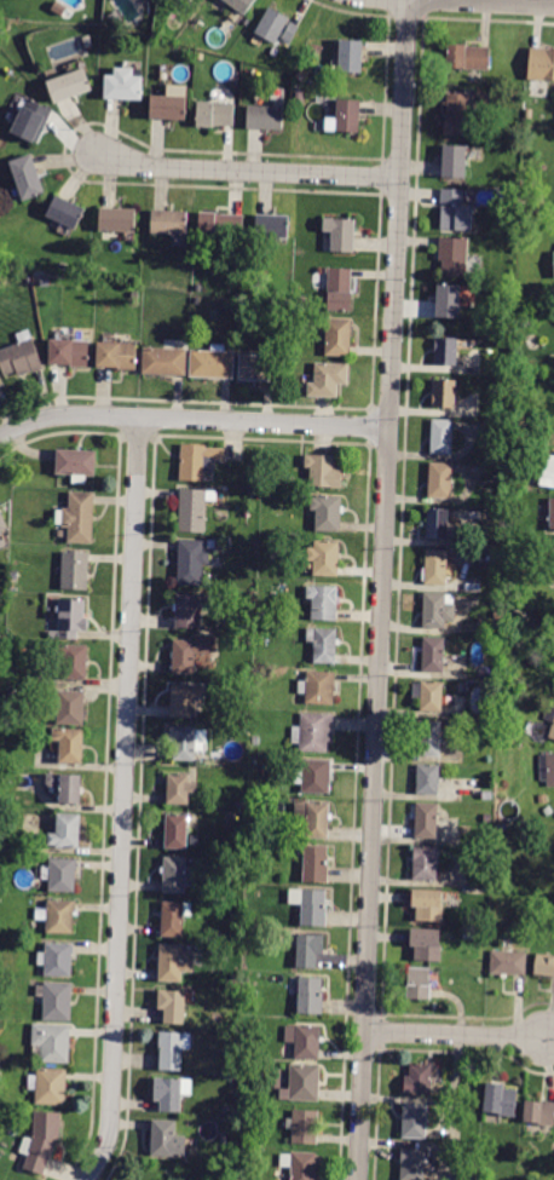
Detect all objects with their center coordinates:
road: (495, 1)
building: (241, 5)
building: (117, 19)
building: (272, 25)
building: (2, 30)
building: (290, 33)
building: (88, 41)
building: (200, 47)
building: (275, 53)
building: (351, 56)
building: (468, 57)
building: (541, 64)
building: (69, 85)
building: (123, 85)
building: (518, 88)
building: (300, 96)
building: (171, 104)
building: (214, 114)
building: (457, 114)
building: (529, 114)
building: (347, 115)
building: (266, 117)
building: (31, 120)
building: (455, 162)
road: (248, 169)
building: (27, 177)
building: (452, 196)
building: (65, 212)
building: (457, 217)
building: (117, 219)
building: (169, 223)
building: (220, 225)
building: (272, 226)
building: (341, 234)
building: (553, 251)
building: (455, 257)
building: (64, 266)
building: (100, 272)
building: (45, 282)
building: (340, 289)
building: (137, 294)
building: (449, 301)
building: (243, 309)
building: (339, 338)
building: (445, 351)
building: (69, 352)
building: (21, 356)
building: (116, 356)
building: (165, 361)
building: (212, 364)
building: (258, 368)
building: (328, 379)
building: (0, 382)
building: (444, 393)
road: (192, 419)
building: (443, 437)
building: (198, 461)
building: (75, 462)
building: (324, 471)
building: (547, 471)
building: (440, 480)
building: (258, 482)
building: (270, 483)
building: (254, 493)
building: (192, 511)
building: (327, 513)
building: (552, 514)
building: (80, 518)
building: (438, 524)
building: (2, 530)
building: (324, 558)
building: (191, 562)
building: (437, 568)
building: (75, 570)
road: (382, 589)
building: (323, 601)
building: (189, 610)
building: (437, 610)
building: (498, 615)
building: (265, 616)
building: (71, 617)
building: (246, 643)
building: (324, 644)
building: (189, 654)
building: (433, 655)
building: (74, 660)
building: (10, 670)
building: (319, 687)
building: (7, 689)
building: (462, 689)
building: (429, 695)
building: (184, 701)
building: (279, 702)
building: (70, 707)
building: (548, 714)
building: (246, 720)
building: (313, 732)
building: (552, 732)
building: (429, 738)
building: (184, 743)
building: (70, 744)
building: (5, 764)
building: (547, 769)
building: (313, 776)
building: (428, 779)
building: (67, 787)
building: (180, 789)
building: (255, 790)
building: (487, 795)
building: (543, 799)
building: (255, 800)
road: (123, 801)
building: (237, 805)
building: (547, 812)
building: (314, 818)
building: (487, 818)
building: (426, 821)
building: (67, 831)
building: (177, 831)
building: (425, 863)
building: (316, 864)
building: (62, 875)
building: (177, 875)
building: (237, 893)
building: (428, 905)
building: (311, 906)
building: (59, 916)
building: (174, 917)
building: (427, 944)
building: (308, 950)
building: (57, 959)
building: (174, 962)
building: (508, 963)
building: (544, 965)
building: (480, 979)
building: (419, 982)
building: (310, 995)
building: (56, 1001)
building: (173, 1006)
road: (549, 1032)
road: (454, 1035)
building: (306, 1041)
building: (52, 1042)
building: (173, 1049)
building: (419, 1080)
building: (302, 1084)
building: (50, 1087)
building: (172, 1093)
building: (500, 1100)
building: (0, 1110)
building: (538, 1116)
building: (414, 1121)
building: (305, 1127)
building: (224, 1138)
building: (167, 1139)
building: (42, 1141)
building: (300, 1164)
building: (412, 1164)

